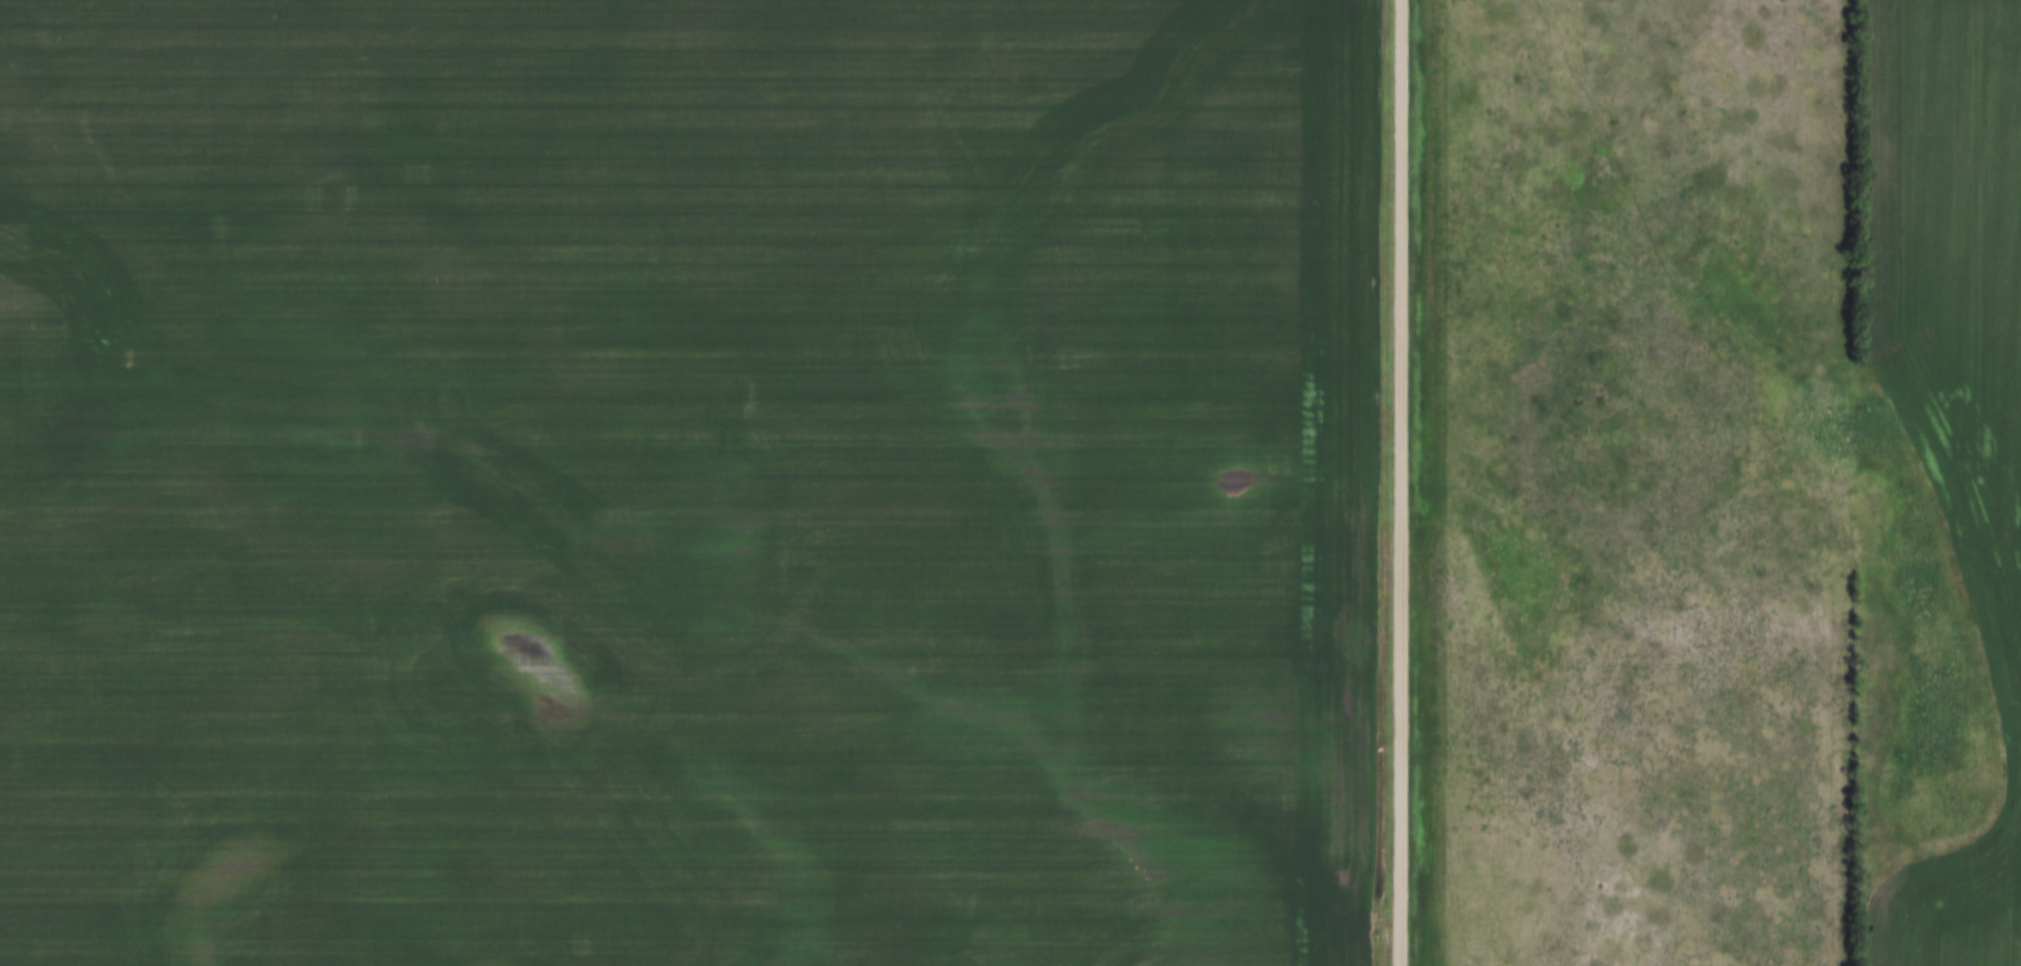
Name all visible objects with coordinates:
road: (1404, 482)

